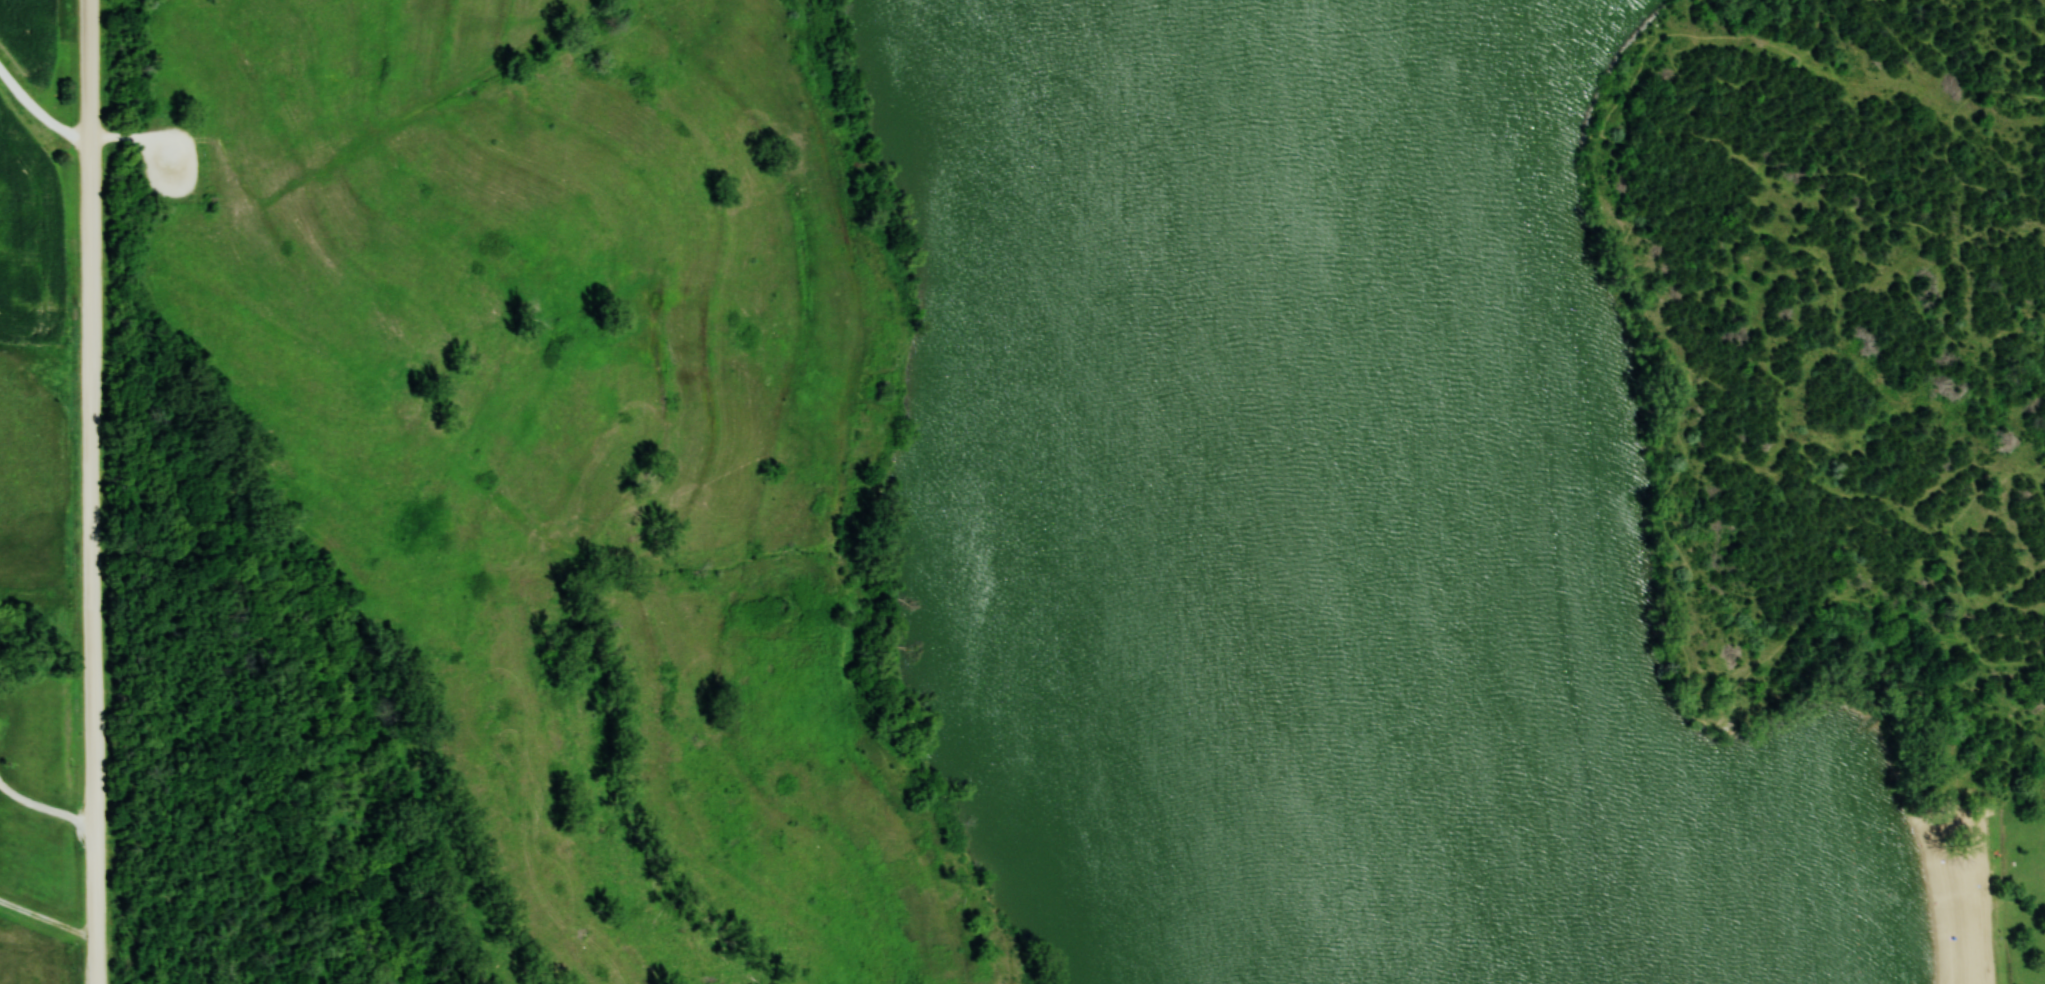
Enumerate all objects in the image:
road: (1762, 37)
road: (1662, 48)
road: (1969, 62)
road: (1687, 99)
road: (126, 135)
parking lot: (168, 160)
road: (171, 164)
road: (1682, 399)
park: (1478, 482)
road: (92, 491)
road: (1849, 525)
road: (2034, 572)
road: (1867, 603)
road: (2025, 605)
road: (2017, 625)
road: (2041, 637)
road: (2013, 658)
road: (2000, 706)
road: (2041, 764)
road: (1993, 796)
road: (1999, 872)

